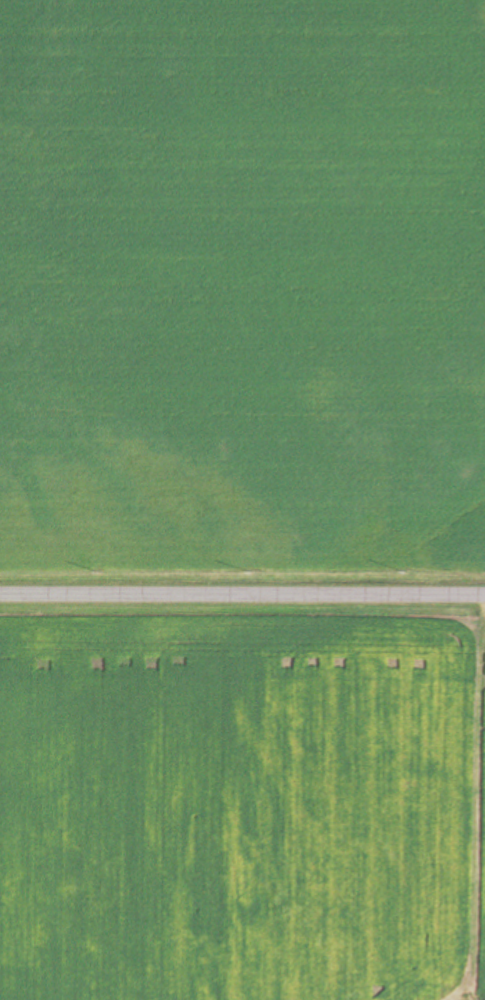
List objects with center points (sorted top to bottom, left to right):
road: (242, 595)

